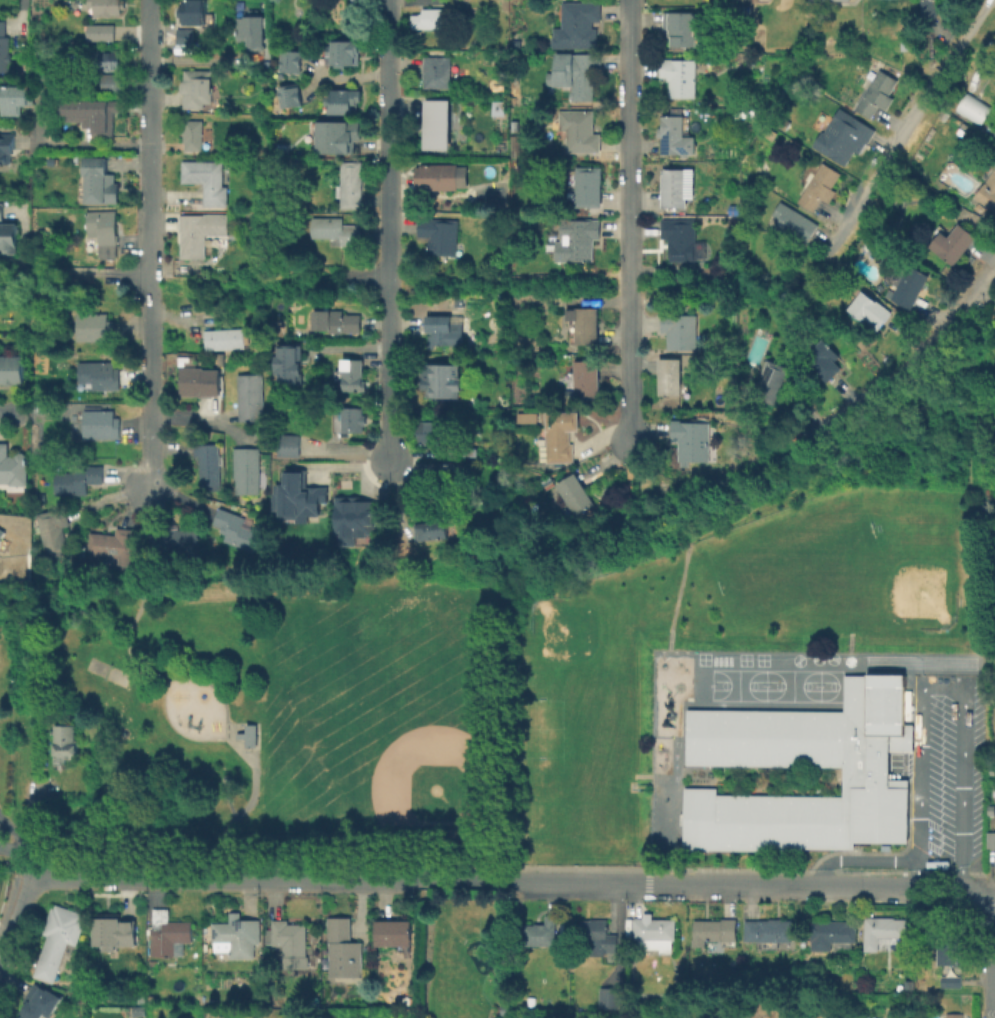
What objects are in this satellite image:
building: (840, 0)
building: (360, 1)
building: (107, 6)
road: (19, 8)
building: (925, 8)
building: (738, 10)
building: (193, 11)
building: (430, 18)
building: (579, 24)
building: (681, 27)
building: (251, 31)
building: (185, 36)
building: (105, 39)
building: (907, 39)
building: (5, 50)
building: (994, 53)
building: (344, 55)
building: (106, 59)
building: (291, 63)
building: (438, 71)
building: (583, 75)
building: (679, 76)
building: (196, 88)
building: (876, 93)
building: (290, 96)
building: (16, 101)
building: (343, 101)
building: (971, 108)
building: (92, 113)
building: (439, 125)
road: (907, 126)
building: (581, 132)
building: (192, 134)
building: (672, 134)
building: (338, 139)
building: (848, 140)
building: (518, 143)
building: (7, 151)
road: (84, 152)
building: (434, 176)
building: (206, 180)
building: (98, 183)
building: (350, 184)
building: (589, 186)
building: (677, 186)
building: (820, 186)
building: (988, 192)
building: (980, 207)
building: (734, 209)
road: (628, 220)
building: (792, 223)
building: (335, 230)
road: (392, 231)
building: (200, 232)
building: (104, 234)
building: (440, 234)
building: (8, 237)
building: (679, 238)
building: (580, 239)
building: (952, 243)
road: (148, 244)
road: (90, 279)
road: (389, 281)
building: (912, 286)
building: (870, 309)
building: (336, 321)
building: (585, 324)
building: (95, 327)
building: (439, 328)
building: (679, 330)
building: (223, 339)
building: (565, 358)
building: (823, 359)
road: (911, 362)
building: (290, 367)
building: (11, 369)
building: (100, 374)
building: (350, 375)
building: (669, 376)
building: (585, 380)
building: (770, 380)
building: (199, 381)
building: (444, 383)
building: (251, 396)
road: (809, 410)
road: (14, 412)
building: (524, 417)
building: (352, 420)
building: (101, 424)
building: (432, 433)
building: (560, 435)
building: (691, 440)
building: (289, 445)
building: (208, 466)
building: (12, 467)
building: (246, 470)
building: (434, 472)
road: (887, 476)
building: (78, 479)
building: (575, 493)
building: (297, 496)
road: (630, 499)
building: (356, 519)
building: (434, 526)
road: (977, 528)
building: (237, 530)
building: (1, 531)
building: (53, 531)
building: (0, 539)
building: (175, 540)
building: (113, 544)
park: (796, 560)
park: (907, 579)
road: (508, 582)
road: (680, 586)
park: (579, 638)
park: (703, 658)
park: (816, 658)
park: (830, 658)
park: (743, 659)
park: (761, 659)
park: (797, 659)
park: (848, 660)
track: (920, 662)
park: (105, 670)
road: (189, 679)
road: (922, 682)
park: (737, 684)
park: (791, 685)
park: (828, 686)
road: (940, 689)
park: (323, 716)
park: (290, 721)
building: (248, 736)
building: (64, 743)
building: (785, 757)
park: (415, 767)
parking lot: (950, 773)
building: (993, 791)
road: (33, 814)
road: (5, 833)
building: (991, 839)
road: (18, 854)
road: (863, 862)
road: (657, 870)
road: (515, 882)
road: (20, 923)
building: (768, 929)
building: (111, 930)
building: (712, 930)
building: (882, 930)
building: (538, 932)
building: (652, 932)
building: (169, 934)
building: (394, 934)
building: (235, 935)
building: (833, 935)
building: (595, 938)
building: (56, 939)
building: (289, 942)
building: (341, 949)
building: (949, 953)
building: (909, 984)
building: (609, 996)
road: (994, 1000)
building: (531, 1001)
building: (39, 1005)
building: (953, 1015)
building: (868, 1017)

